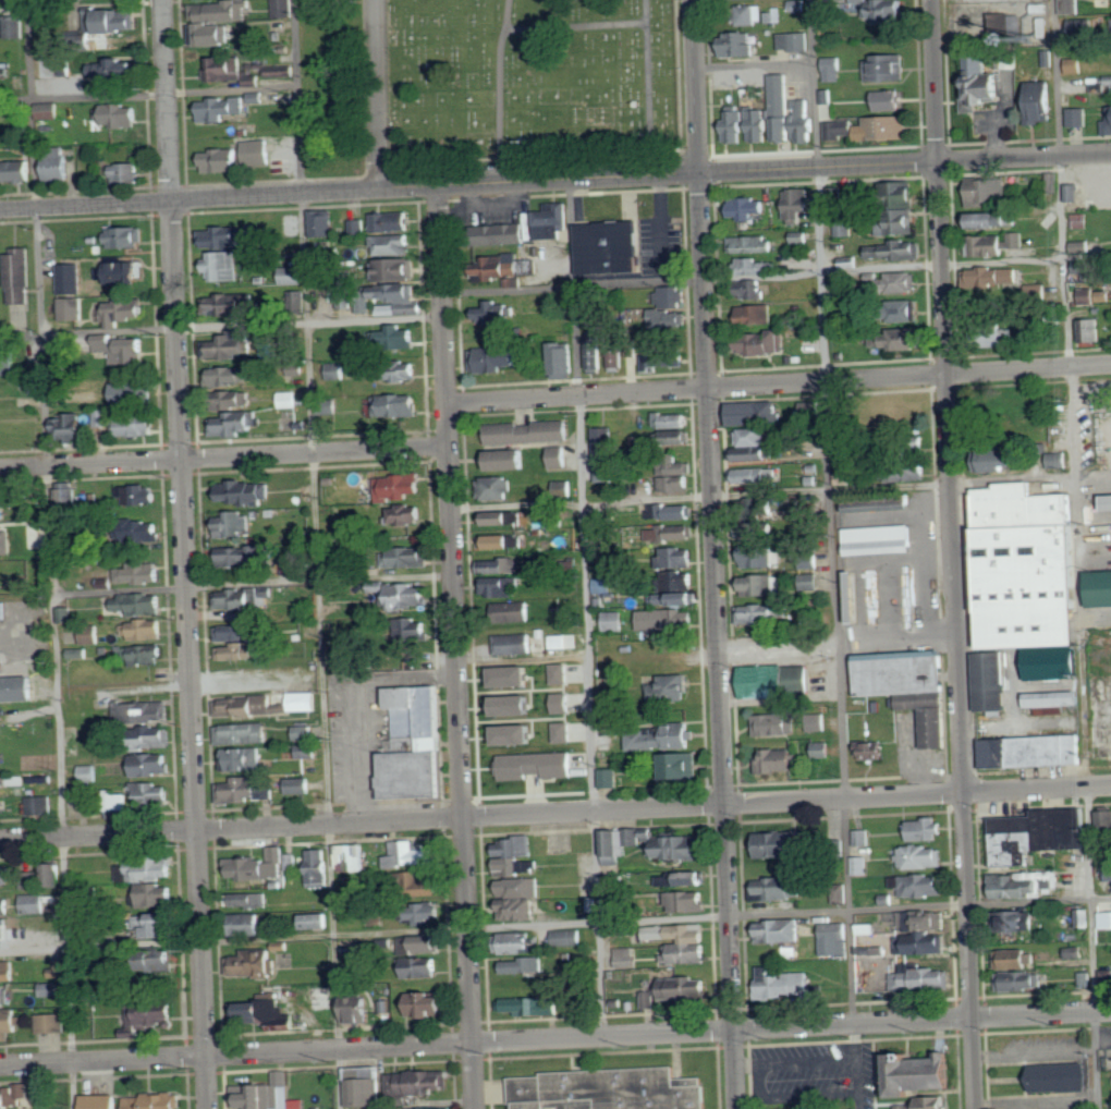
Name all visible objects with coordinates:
building: (1104, 0)
building: (1071, 7)
building: (284, 9)
building: (889, 10)
building: (221, 11)
building: (750, 14)
building: (375, 15)
building: (773, 15)
building: (119, 20)
building: (1041, 20)
road: (574, 25)
building: (1004, 25)
building: (1079, 26)
building: (14, 27)
building: (210, 34)
building: (794, 41)
building: (740, 44)
road: (754, 64)
building: (1073, 65)
building: (887, 68)
building: (118, 69)
building: (833, 69)
building: (282, 70)
building: (230, 72)
park: (530, 77)
building: (985, 84)
building: (1107, 84)
road: (648, 87)
road: (233, 89)
road: (499, 89)
road: (376, 94)
road: (83, 95)
building: (258, 97)
building: (889, 100)
building: (1041, 100)
building: (222, 109)
building: (49, 110)
building: (120, 115)
building: (782, 115)
building: (1078, 117)
building: (1108, 123)
building: (735, 127)
building: (889, 127)
building: (840, 130)
building: (259, 151)
road: (1025, 157)
building: (224, 160)
building: (59, 168)
building: (17, 171)
building: (126, 173)
building: (1053, 180)
road: (468, 181)
building: (987, 191)
building: (1074, 193)
building: (835, 194)
building: (798, 203)
building: (748, 208)
building: (901, 209)
building: (996, 219)
building: (551, 221)
building: (392, 222)
building: (323, 223)
building: (357, 227)
building: (845, 228)
building: (503, 234)
building: (126, 237)
building: (229, 237)
building: (752, 244)
building: (993, 244)
building: (393, 245)
building: (1082, 246)
building: (610, 247)
building: (895, 251)
building: (754, 266)
building: (1084, 266)
building: (223, 267)
building: (499, 267)
building: (528, 267)
building: (399, 269)
building: (122, 272)
road: (777, 273)
building: (294, 276)
building: (20, 277)
building: (319, 278)
building: (71, 279)
building: (991, 279)
building: (901, 282)
building: (750, 290)
building: (1037, 291)
building: (399, 292)
building: (671, 296)
building: (1095, 296)
building: (230, 304)
building: (71, 308)
building: (400, 308)
building: (907, 310)
building: (122, 312)
building: (496, 313)
building: (757, 314)
building: (668, 319)
road: (221, 325)
building: (1089, 330)
building: (993, 334)
building: (396, 337)
building: (903, 339)
building: (761, 343)
building: (229, 345)
building: (124, 350)
building: (597, 350)
building: (618, 351)
building: (660, 358)
building: (9, 359)
building: (493, 359)
building: (564, 361)
building: (335, 371)
building: (398, 371)
building: (230, 376)
road: (779, 382)
building: (134, 393)
building: (236, 399)
building: (288, 400)
building: (398, 405)
building: (814, 409)
building: (756, 413)
building: (102, 418)
building: (673, 421)
building: (235, 424)
building: (138, 425)
building: (71, 427)
building: (530, 432)
building: (674, 437)
building: (605, 442)
building: (752, 446)
building: (560, 456)
road: (224, 458)
building: (511, 460)
building: (1000, 460)
building: (1058, 460)
building: (607, 473)
building: (902, 473)
building: (755, 475)
building: (845, 475)
building: (675, 476)
building: (399, 487)
building: (499, 488)
building: (563, 488)
road: (780, 490)
building: (245, 492)
building: (70, 493)
building: (137, 495)
building: (1106, 500)
building: (860, 505)
building: (671, 512)
building: (407, 514)
building: (498, 519)
building: (235, 525)
building: (144, 532)
building: (757, 532)
building: (676, 533)
building: (880, 540)
building: (501, 541)
building: (2, 544)
road: (50, 553)
road: (185, 553)
road: (316, 553)
road: (715, 553)
road: (953, 553)
road: (1075, 553)
road: (829, 554)
building: (243, 556)
building: (759, 557)
building: (406, 558)
building: (499, 566)
building: (679, 568)
building: (1022, 568)
building: (141, 573)
road: (227, 584)
building: (602, 585)
building: (761, 585)
building: (1098, 586)
building: (502, 587)
building: (404, 597)
building: (858, 597)
building: (237, 599)
building: (685, 599)
building: (141, 605)
building: (851, 606)
road: (588, 607)
building: (513, 612)
building: (758, 614)
building: (65, 616)
building: (669, 620)
building: (614, 621)
building: (413, 630)
building: (145, 631)
building: (237, 634)
building: (89, 635)
road: (898, 636)
building: (521, 644)
road: (779, 645)
road: (456, 646)
building: (241, 651)
building: (149, 655)
road: (588, 661)
building: (1049, 661)
building: (562, 674)
road: (243, 675)
building: (514, 678)
building: (987, 680)
building: (778, 681)
building: (672, 687)
building: (909, 687)
building: (17, 690)
building: (1050, 698)
building: (304, 702)
building: (563, 703)
building: (251, 706)
building: (516, 706)
building: (142, 711)
building: (817, 722)
building: (776, 724)
building: (564, 732)
building: (306, 733)
building: (244, 734)
building: (517, 735)
building: (155, 738)
building: (663, 738)
building: (415, 745)
building: (1102, 745)
building: (1028, 748)
building: (820, 750)
building: (872, 751)
building: (308, 752)
building: (244, 759)
building: (778, 760)
building: (152, 765)
building: (538, 766)
building: (675, 767)
building: (88, 773)
building: (610, 778)
building: (2, 781)
building: (301, 785)
building: (247, 791)
building: (80, 794)
building: (152, 795)
building: (118, 803)
building: (2, 806)
building: (40, 806)
road: (555, 812)
building: (1102, 818)
building: (926, 828)
building: (1034, 833)
building: (862, 836)
building: (621, 843)
building: (779, 843)
building: (412, 853)
building: (515, 853)
building: (352, 856)
building: (921, 856)
building: (290, 862)
building: (258, 865)
building: (320, 867)
building: (151, 868)
building: (57, 872)
building: (5, 873)
building: (1107, 874)
building: (684, 877)
building: (1018, 882)
building: (921, 885)
building: (430, 886)
building: (518, 886)
building: (780, 887)
building: (841, 893)
building: (157, 894)
building: (38, 899)
building: (246, 900)
building: (687, 900)
building: (1, 903)
building: (520, 907)
building: (426, 911)
building: (1078, 917)
building: (1103, 918)
building: (317, 919)
building: (925, 919)
building: (1009, 921)
building: (249, 922)
building: (155, 923)
road: (554, 923)
building: (867, 928)
building: (780, 929)
building: (4, 930)
building: (567, 937)
building: (835, 938)
building: (516, 941)
building: (681, 941)
building: (925, 941)
building: (422, 943)
building: (1071, 946)
building: (625, 956)
building: (1011, 956)
building: (161, 959)
building: (254, 963)
building: (525, 964)
building: (423, 965)
building: (8, 970)
building: (871, 970)
building: (1104, 976)
building: (920, 977)
building: (1083, 978)
building: (1015, 980)
building: (786, 985)
building: (50, 988)
building: (677, 989)
building: (3, 996)
building: (323, 998)
building: (428, 1002)
building: (158, 1003)
building: (532, 1004)
building: (264, 1013)
building: (147, 1017)
building: (52, 1022)
building: (9, 1023)
road: (555, 1039)
road: (808, 1062)
road: (748, 1064)
parking lot: (803, 1073)
building: (917, 1074)
building: (1064, 1076)
building: (419, 1082)
building: (366, 1085)
building: (608, 1090)
building: (265, 1093)
building: (12, 1095)
road: (793, 1096)
building: (156, 1100)
building: (101, 1101)
building: (300, 1104)
building: (926, 1104)
building: (435, 1108)
building: (947, 1108)

